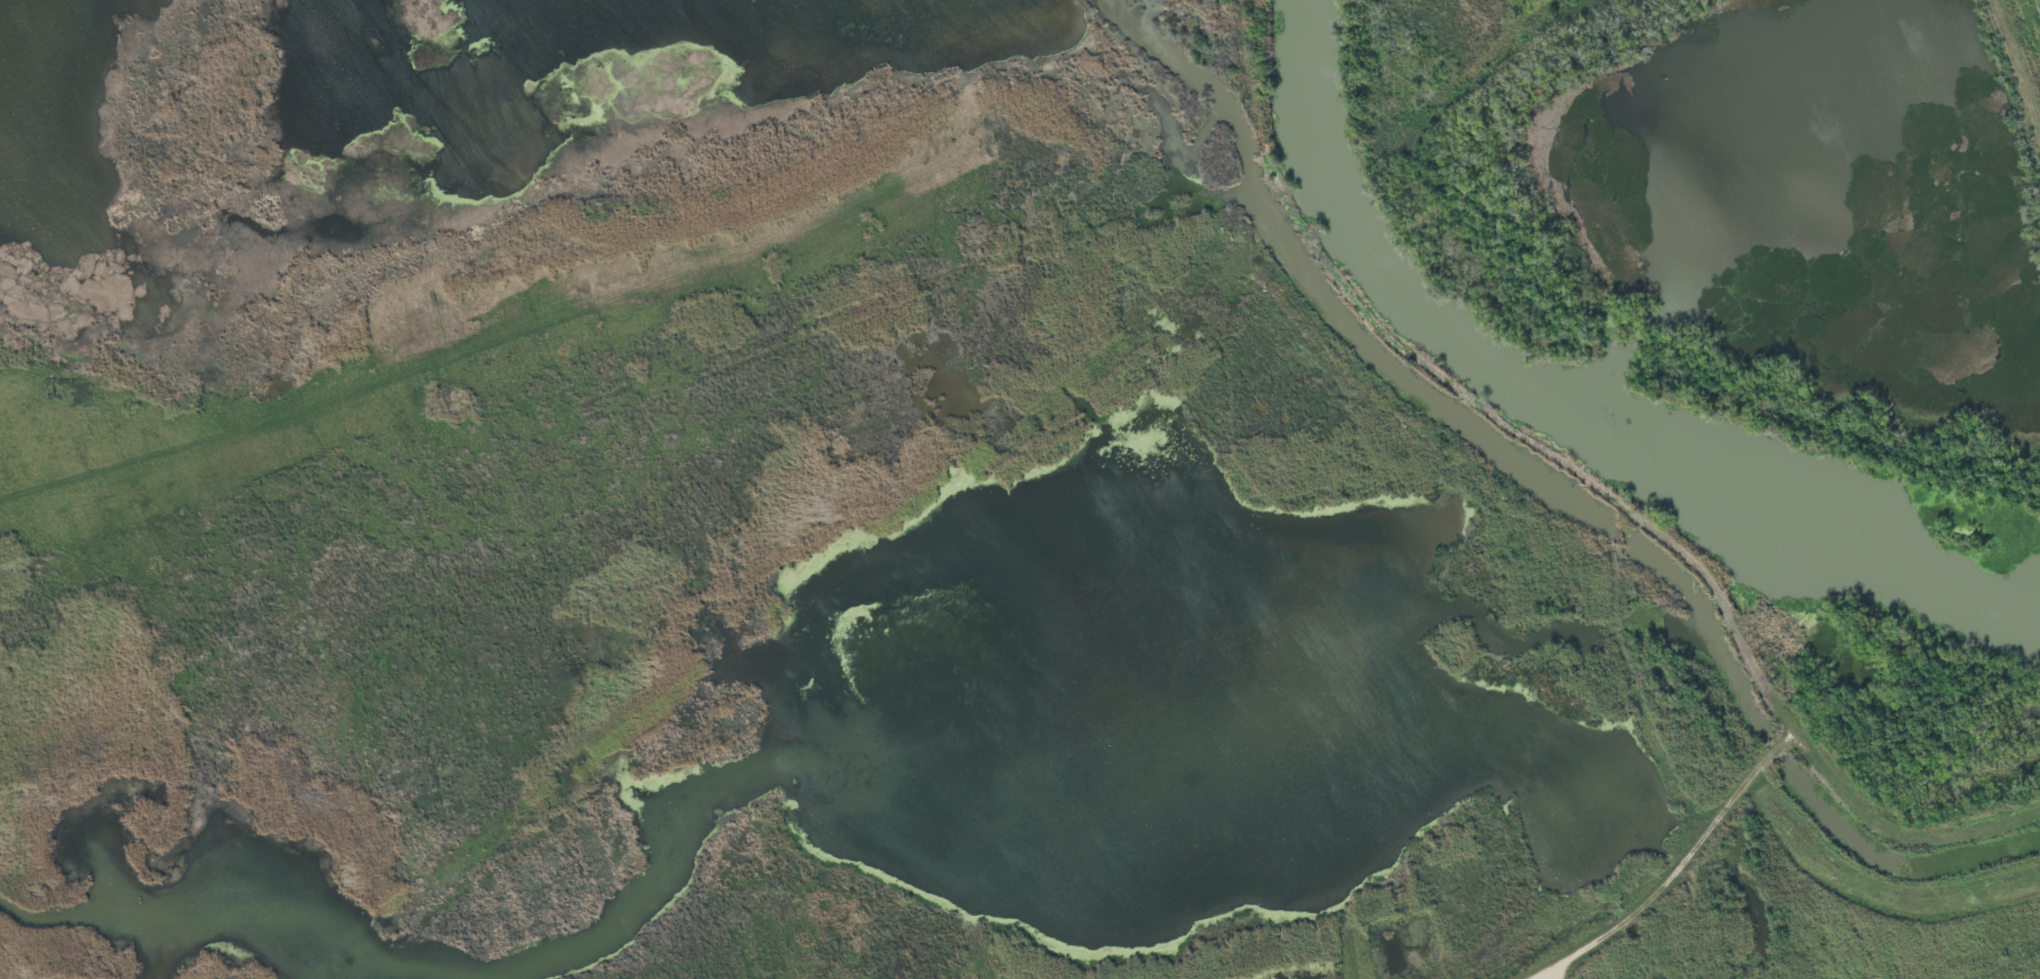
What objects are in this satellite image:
road: (1676, 868)

